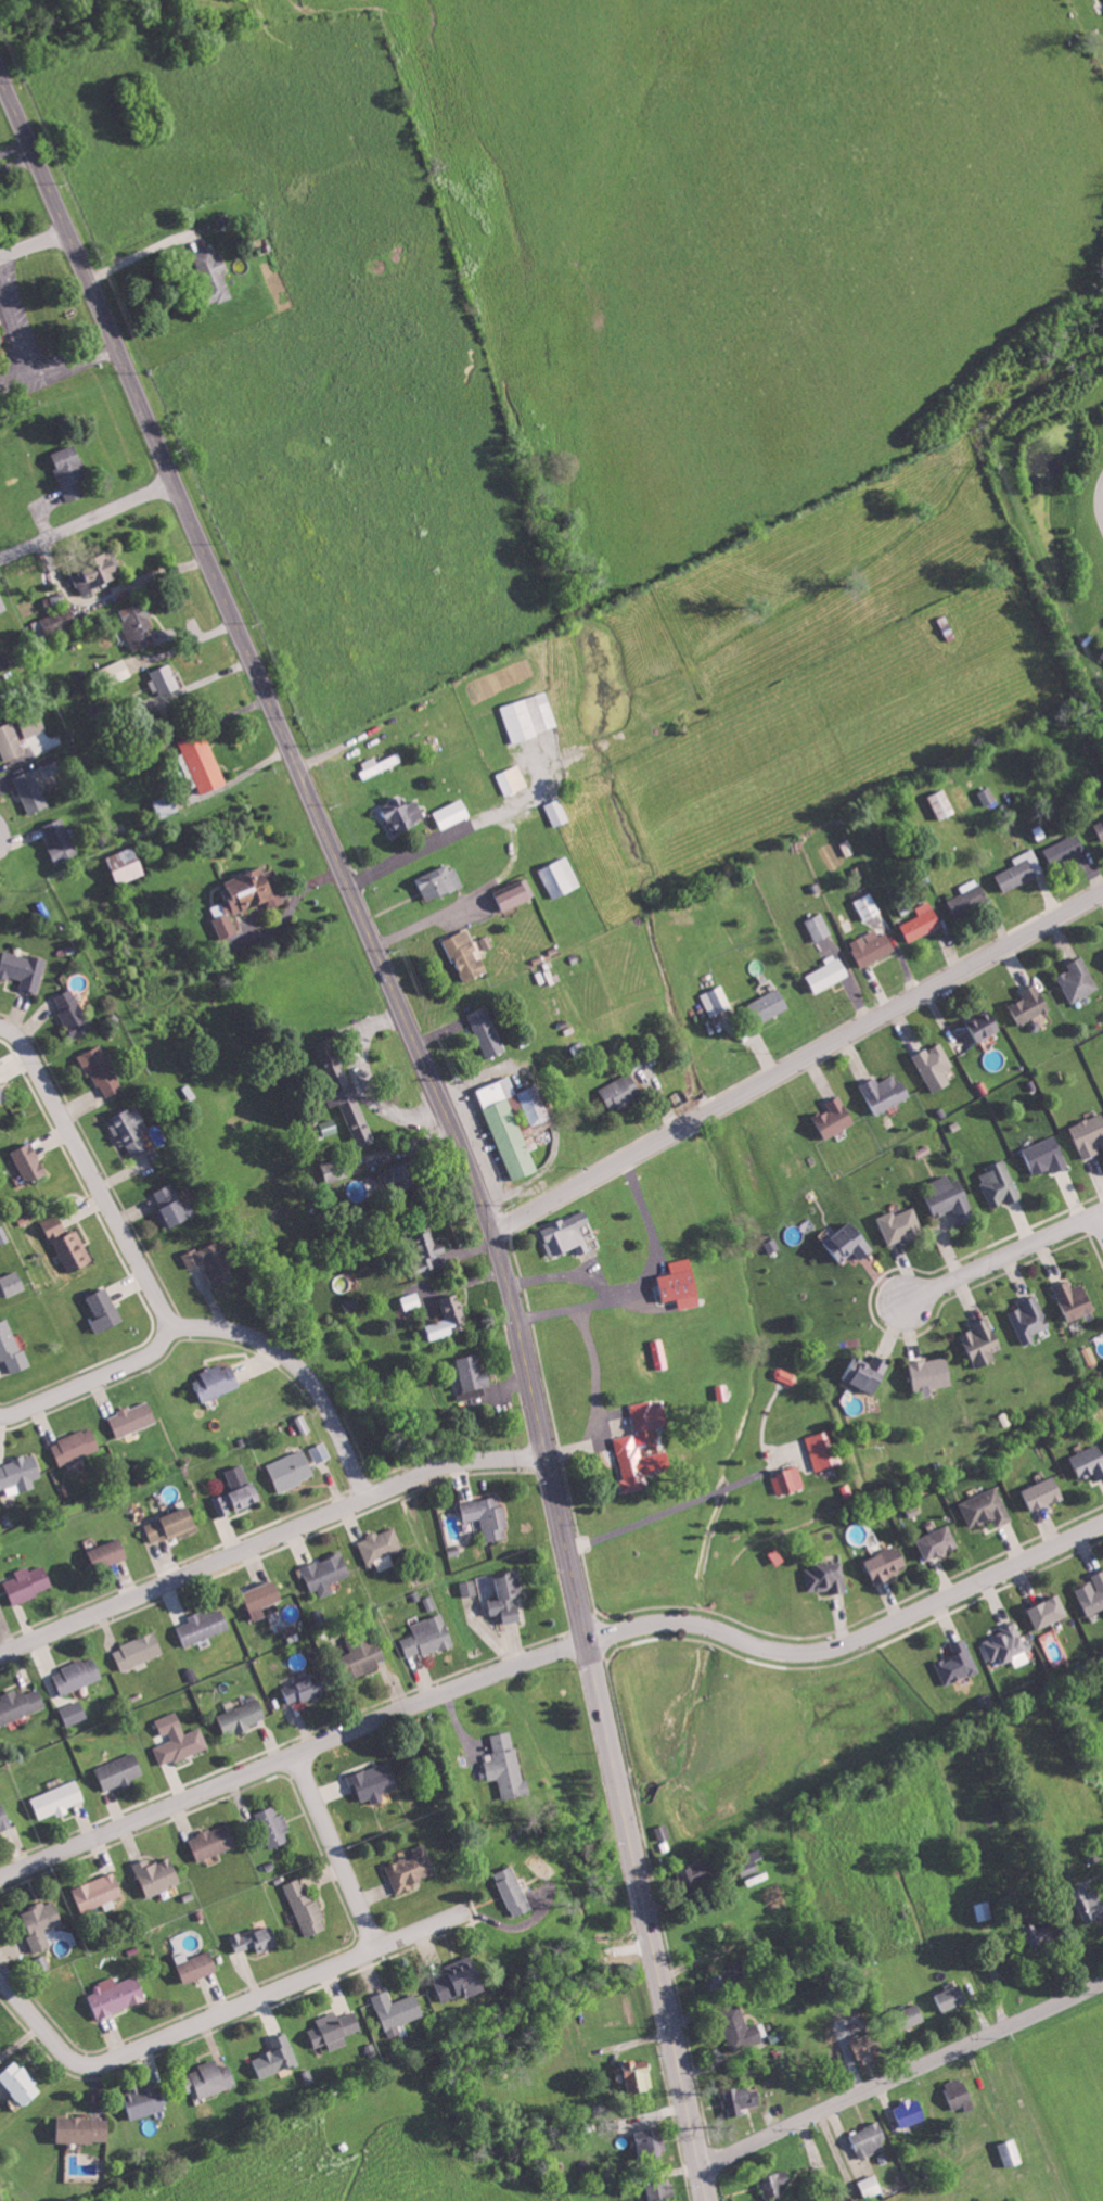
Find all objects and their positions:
road: (34, 244)
building: (216, 275)
road: (11, 317)
building: (0, 346)
road: (57, 368)
building: (72, 472)
road: (87, 521)
building: (100, 575)
building: (2, 605)
building: (55, 620)
building: (138, 625)
building: (1102, 656)
building: (3, 662)
building: (166, 680)
building: (2, 696)
building: (530, 716)
building: (11, 742)
building: (204, 763)
building: (50, 765)
building: (380, 765)
building: (512, 780)
building: (33, 792)
building: (987, 794)
building: (941, 803)
building: (167, 805)
building: (453, 813)
building: (557, 813)
building: (405, 814)
building: (1100, 827)
building: (61, 840)
building: (1064, 848)
building: (128, 865)
building: (1018, 869)
building: (561, 877)
building: (440, 881)
building: (514, 893)
building: (246, 896)
building: (970, 896)
building: (869, 905)
building: (923, 920)
building: (819, 926)
building: (873, 947)
building: (467, 953)
building: (24, 968)
building: (829, 971)
building: (1079, 979)
building: (716, 1000)
building: (771, 1003)
building: (1031, 1003)
building: (74, 1013)
building: (986, 1025)
building: (488, 1031)
road: (797, 1065)
building: (936, 1066)
building: (102, 1070)
building: (623, 1091)
building: (3, 1092)
building: (886, 1092)
building: (347, 1094)
building: (536, 1104)
road: (439, 1111)
building: (836, 1117)
building: (509, 1127)
building: (130, 1129)
building: (1089, 1135)
building: (1046, 1155)
building: (30, 1161)
building: (334, 1169)
building: (405, 1175)
building: (1000, 1183)
building: (952, 1197)
building: (901, 1224)
building: (566, 1234)
building: (850, 1243)
building: (68, 1244)
building: (433, 1249)
road: (133, 1251)
building: (213, 1261)
road: (1000, 1261)
building: (14, 1282)
building: (681, 1284)
building: (1076, 1299)
building: (411, 1300)
building: (105, 1309)
building: (446, 1319)
building: (1029, 1319)
building: (983, 1341)
building: (11, 1347)
road: (302, 1369)
building: (870, 1371)
building: (931, 1373)
building: (219, 1381)
road: (8, 1414)
building: (651, 1414)
building: (132, 1417)
building: (76, 1446)
building: (825, 1449)
building: (639, 1462)
building: (1088, 1462)
building: (292, 1468)
building: (20, 1474)
building: (788, 1480)
building: (239, 1491)
building: (987, 1507)
building: (488, 1516)
building: (171, 1523)
road: (268, 1538)
building: (939, 1541)
building: (382, 1548)
building: (110, 1552)
building: (887, 1563)
building: (326, 1573)
building: (826, 1577)
building: (29, 1582)
building: (469, 1588)
building: (1092, 1593)
building: (508, 1595)
building: (265, 1596)
building: (1050, 1612)
building: (205, 1625)
building: (428, 1636)
road: (854, 1642)
building: (1009, 1644)
building: (139, 1651)
building: (364, 1652)
building: (958, 1663)
building: (78, 1676)
building: (309, 1687)
building: (21, 1704)
building: (75, 1713)
building: (244, 1716)
building: (178, 1739)
road: (291, 1756)
building: (508, 1766)
building: (121, 1771)
building: (375, 1782)
building: (60, 1798)
building: (4, 1819)
building: (274, 1827)
building: (662, 1832)
building: (214, 1842)
road: (339, 1850)
building: (749, 1865)
building: (412, 1869)
building: (698, 1871)
building: (158, 1874)
building: (514, 1891)
building: (99, 1893)
building: (1091, 1905)
building: (305, 1906)
building: (983, 1910)
building: (41, 1923)
building: (1041, 1932)
building: (258, 1939)
building: (200, 1967)
building: (727, 1977)
building: (462, 1979)
building: (117, 1995)
building: (951, 1997)
building: (398, 2009)
building: (913, 2014)
road: (220, 2018)
building: (334, 2030)
building: (741, 2030)
building: (872, 2041)
building: (275, 2058)
road: (901, 2076)
building: (214, 2077)
building: (22, 2084)
building: (960, 2094)
building: (741, 2099)
building: (148, 2100)
building: (911, 2112)
building: (85, 2129)
building: (869, 2140)
building: (1011, 2153)
building: (774, 2184)
building: (872, 2185)
building: (663, 2191)

